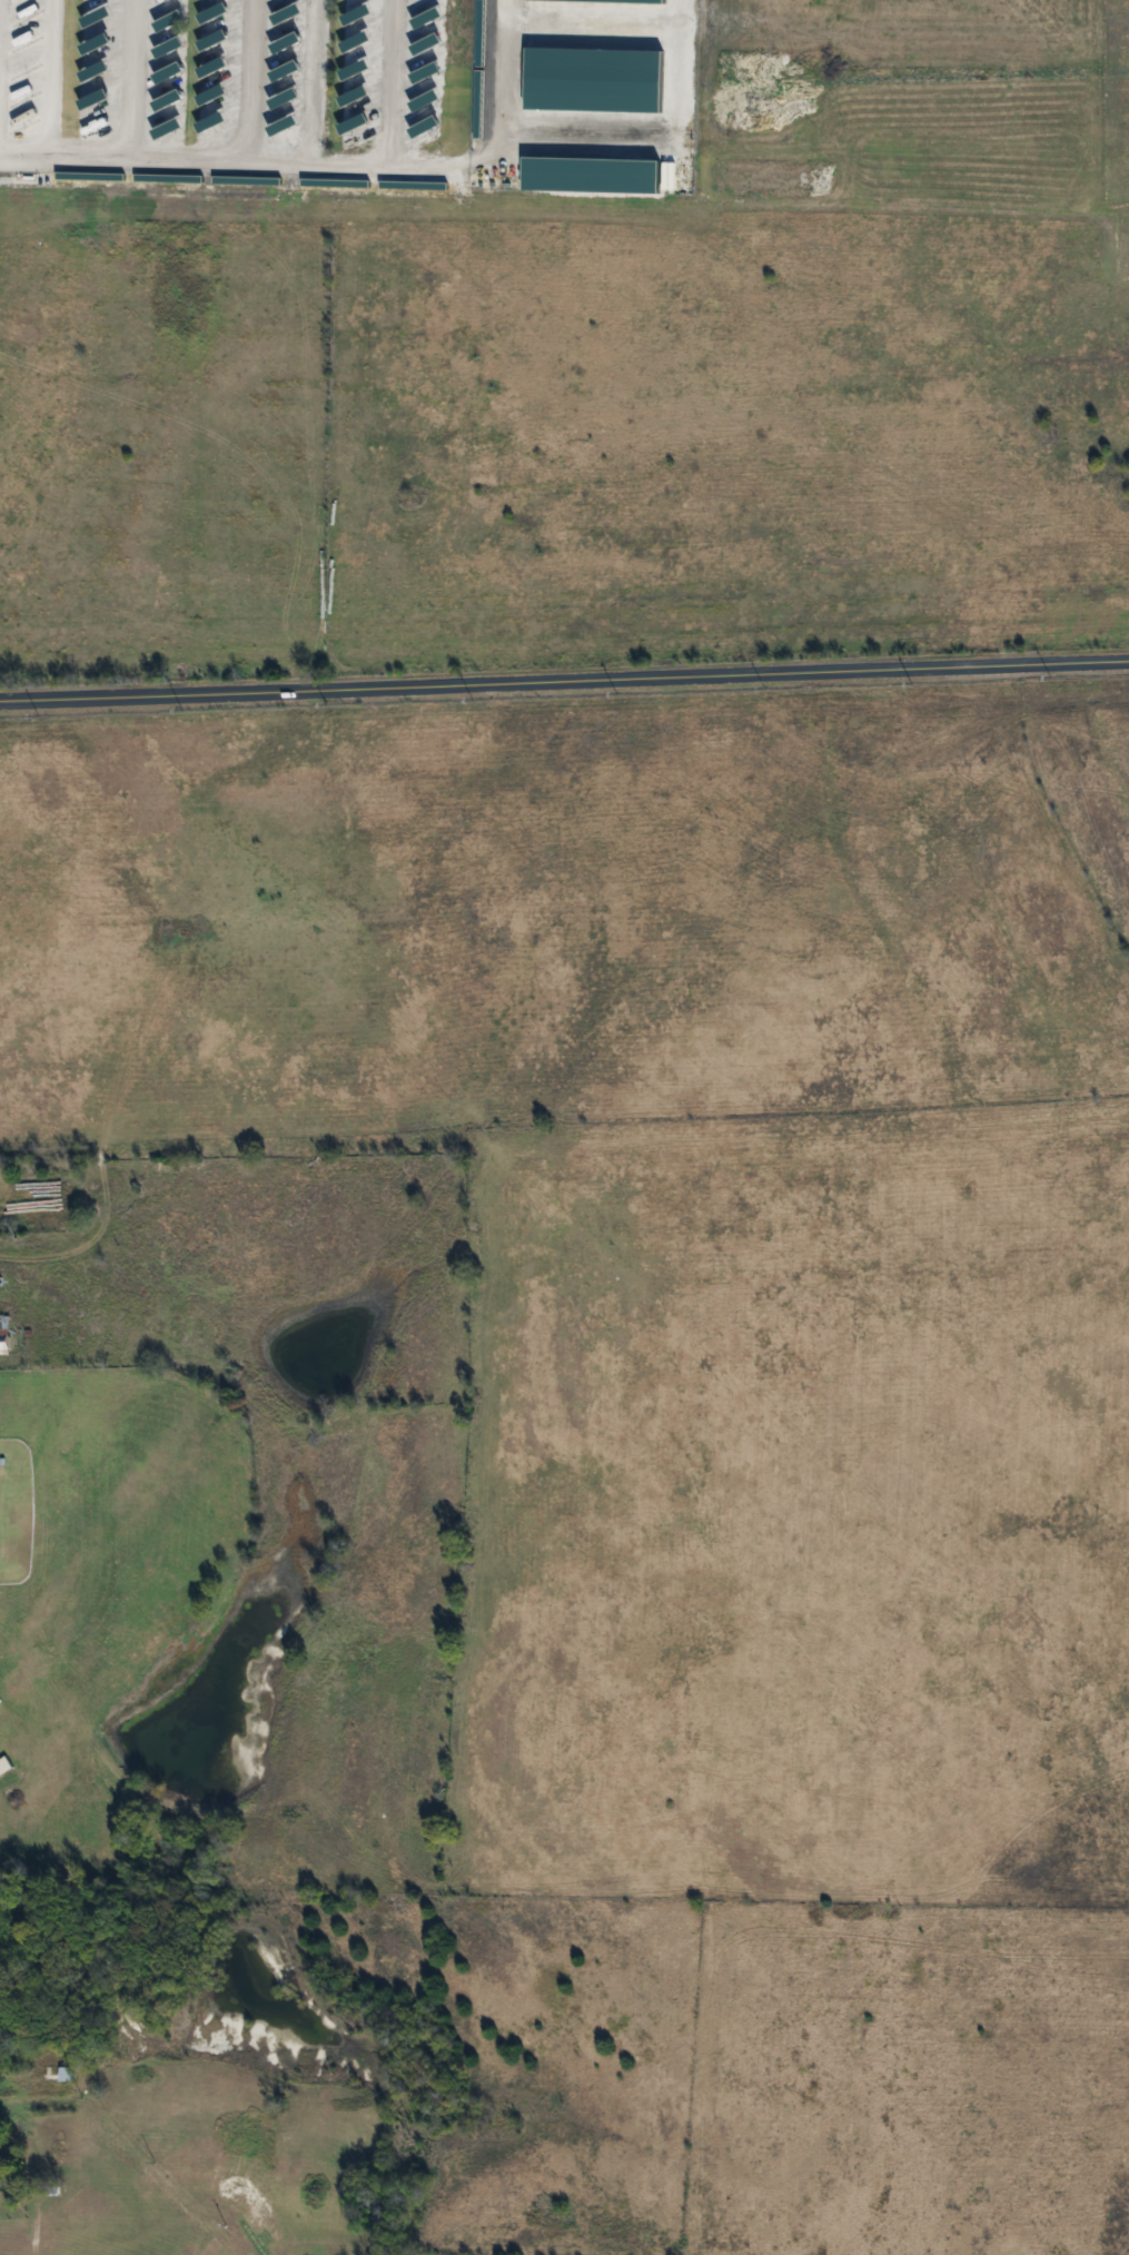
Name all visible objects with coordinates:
building: (99, 0)
road: (676, 73)
road: (50, 98)
road: (293, 158)
road: (564, 689)
road: (910, 917)
road: (690, 1194)
road: (1102, 1314)
building: (3, 1335)
road: (759, 1705)
building: (49, 2076)

